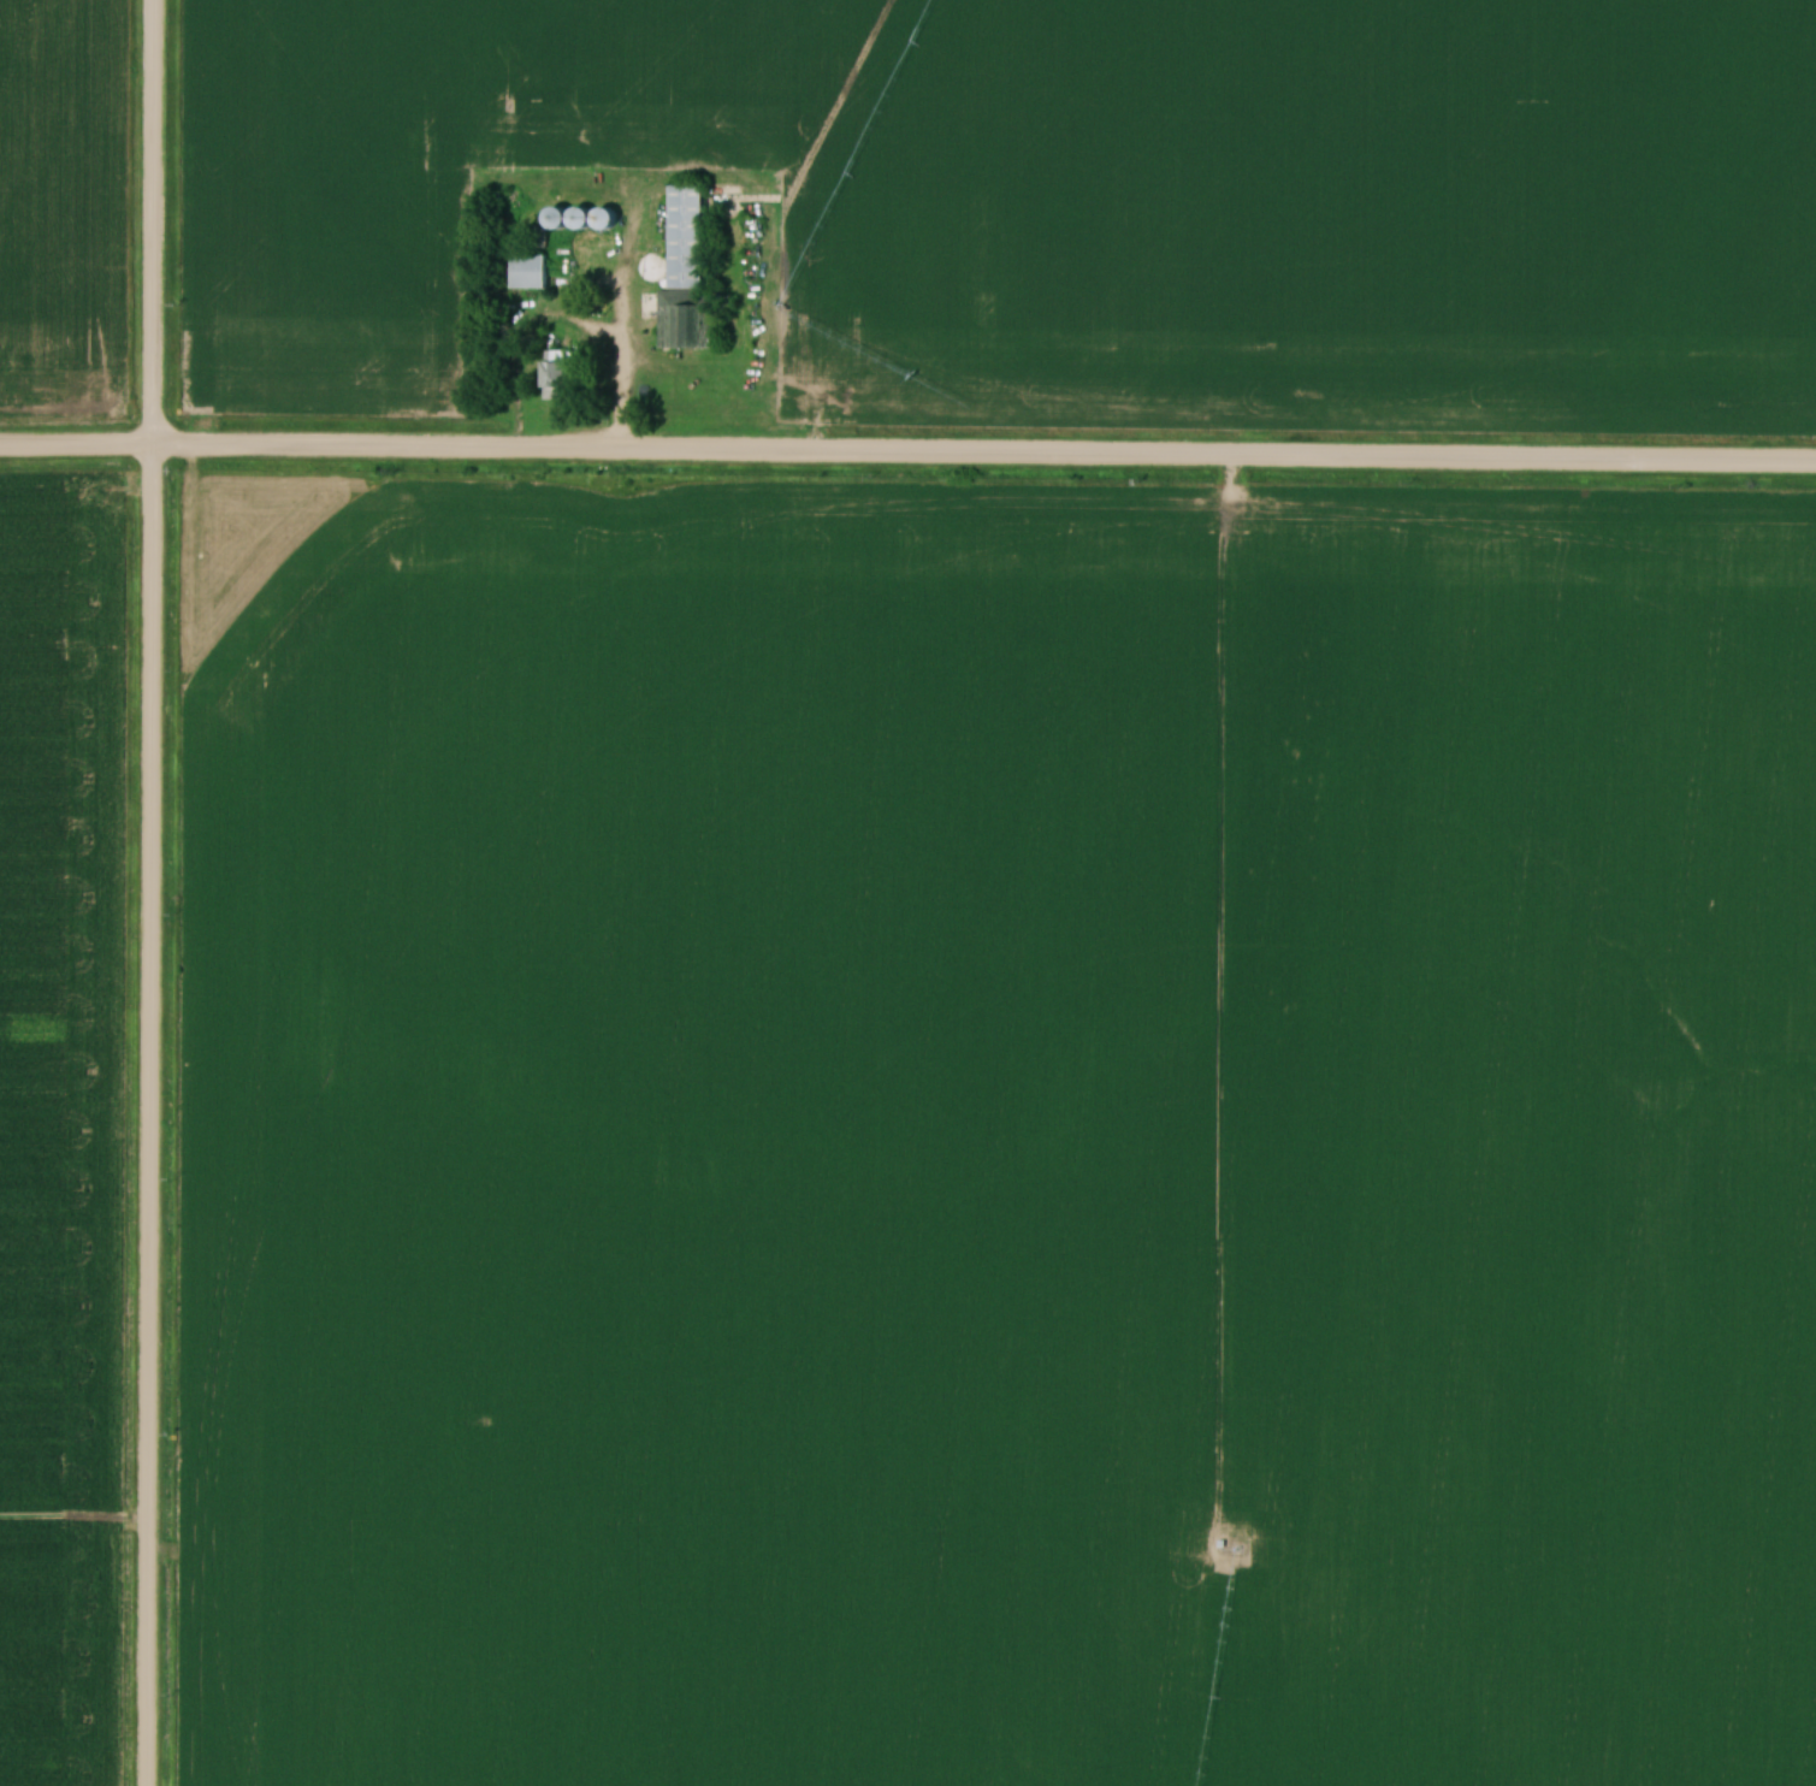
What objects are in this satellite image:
building: (572, 218)
building: (613, 218)
road: (150, 225)
building: (658, 231)
building: (540, 237)
building: (656, 267)
building: (531, 271)
building: (690, 277)
road: (566, 323)
building: (563, 374)
road: (907, 456)
road: (147, 1117)

